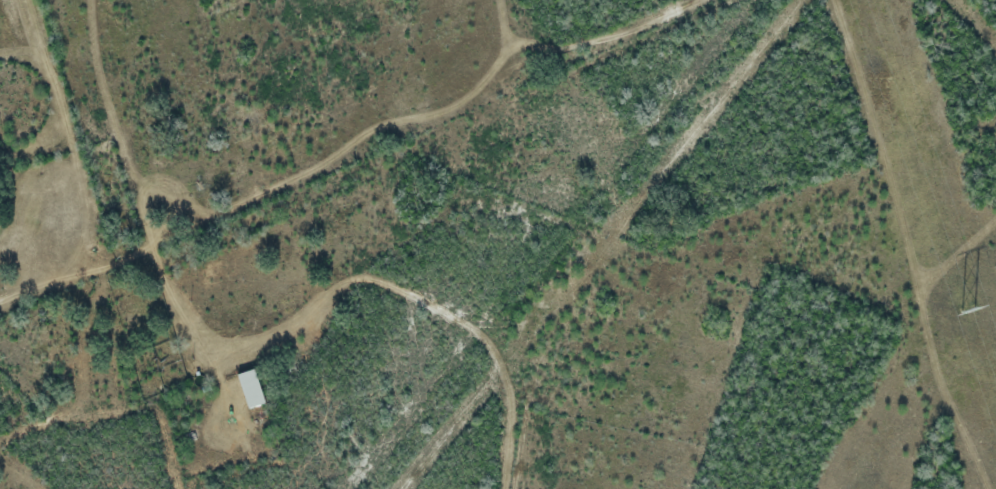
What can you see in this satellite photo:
power tower: (966, 307)
building: (250, 388)

